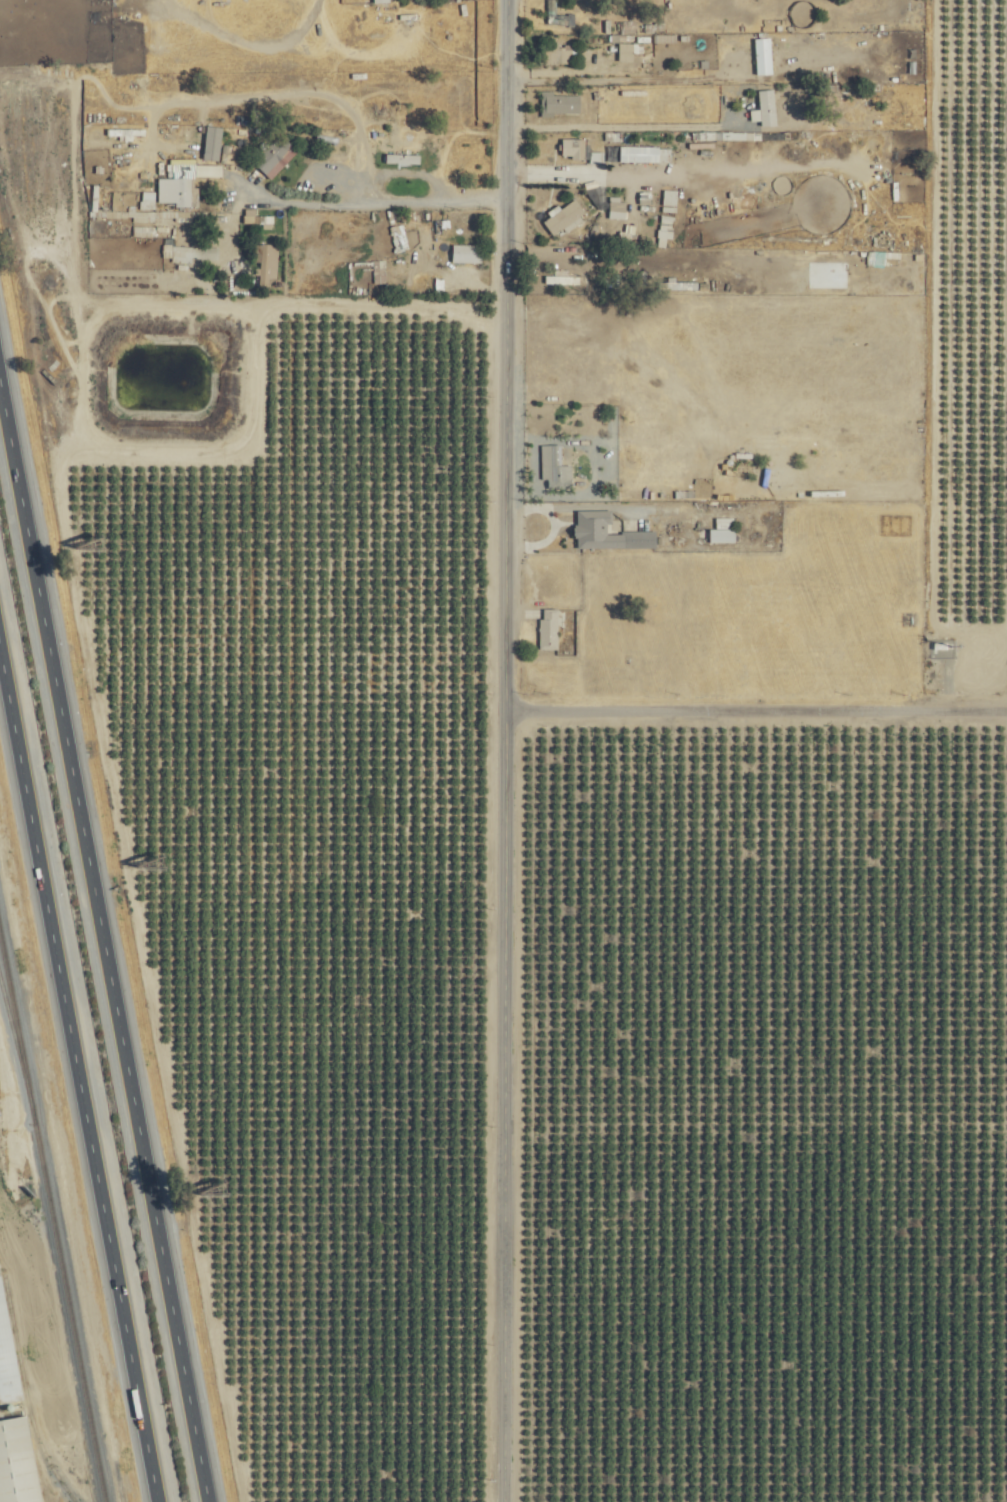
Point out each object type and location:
building: (378, 0)
building: (552, 8)
building: (626, 50)
building: (556, 52)
building: (767, 55)
building: (559, 102)
building: (765, 106)
road: (622, 124)
building: (213, 141)
building: (573, 146)
building: (274, 154)
building: (403, 157)
building: (184, 180)
building: (147, 198)
building: (670, 199)
road: (349, 203)
building: (617, 208)
building: (563, 214)
building: (257, 216)
building: (193, 252)
building: (467, 252)
building: (267, 258)
building: (555, 465)
building: (780, 475)
road: (720, 491)
building: (725, 521)
road: (557, 525)
building: (608, 532)
building: (723, 534)
building: (549, 627)
road: (756, 704)
road: (504, 719)
road: (106, 930)
railway: (12, 1015)
road: (82, 1062)
crop: (768, 1125)
railway: (54, 1214)
building: (7, 1358)
railway: (27, 1392)
building: (17, 1462)
road: (500, 1470)

